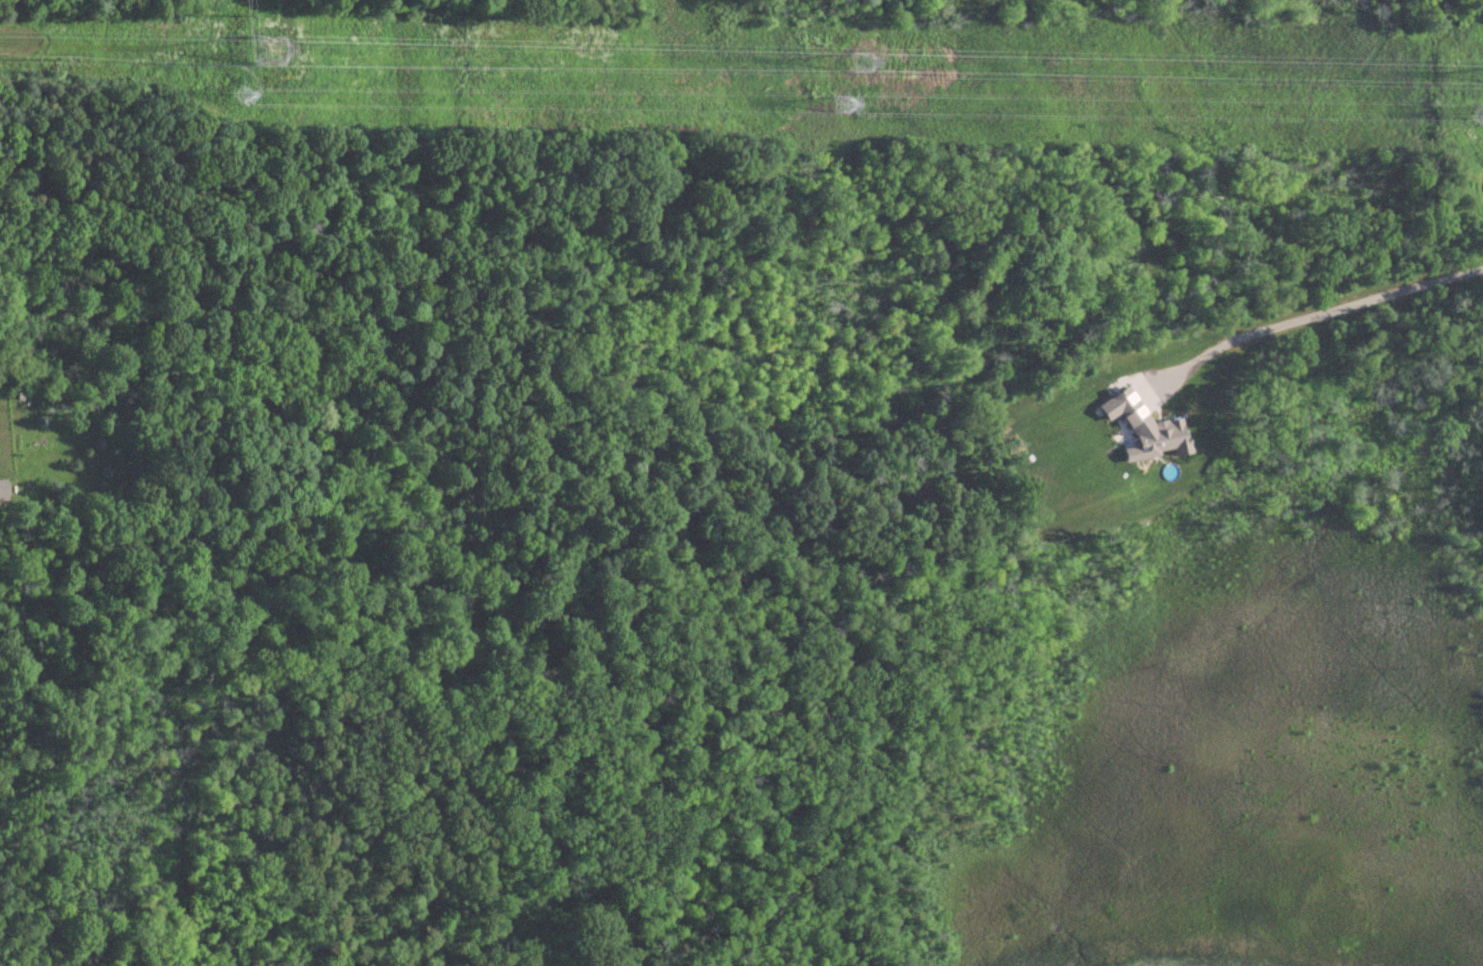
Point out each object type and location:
power tower: (274, 48)
power tower: (863, 64)
power tower: (244, 98)
power tower: (843, 105)
road: (1323, 311)
building: (4, 491)

